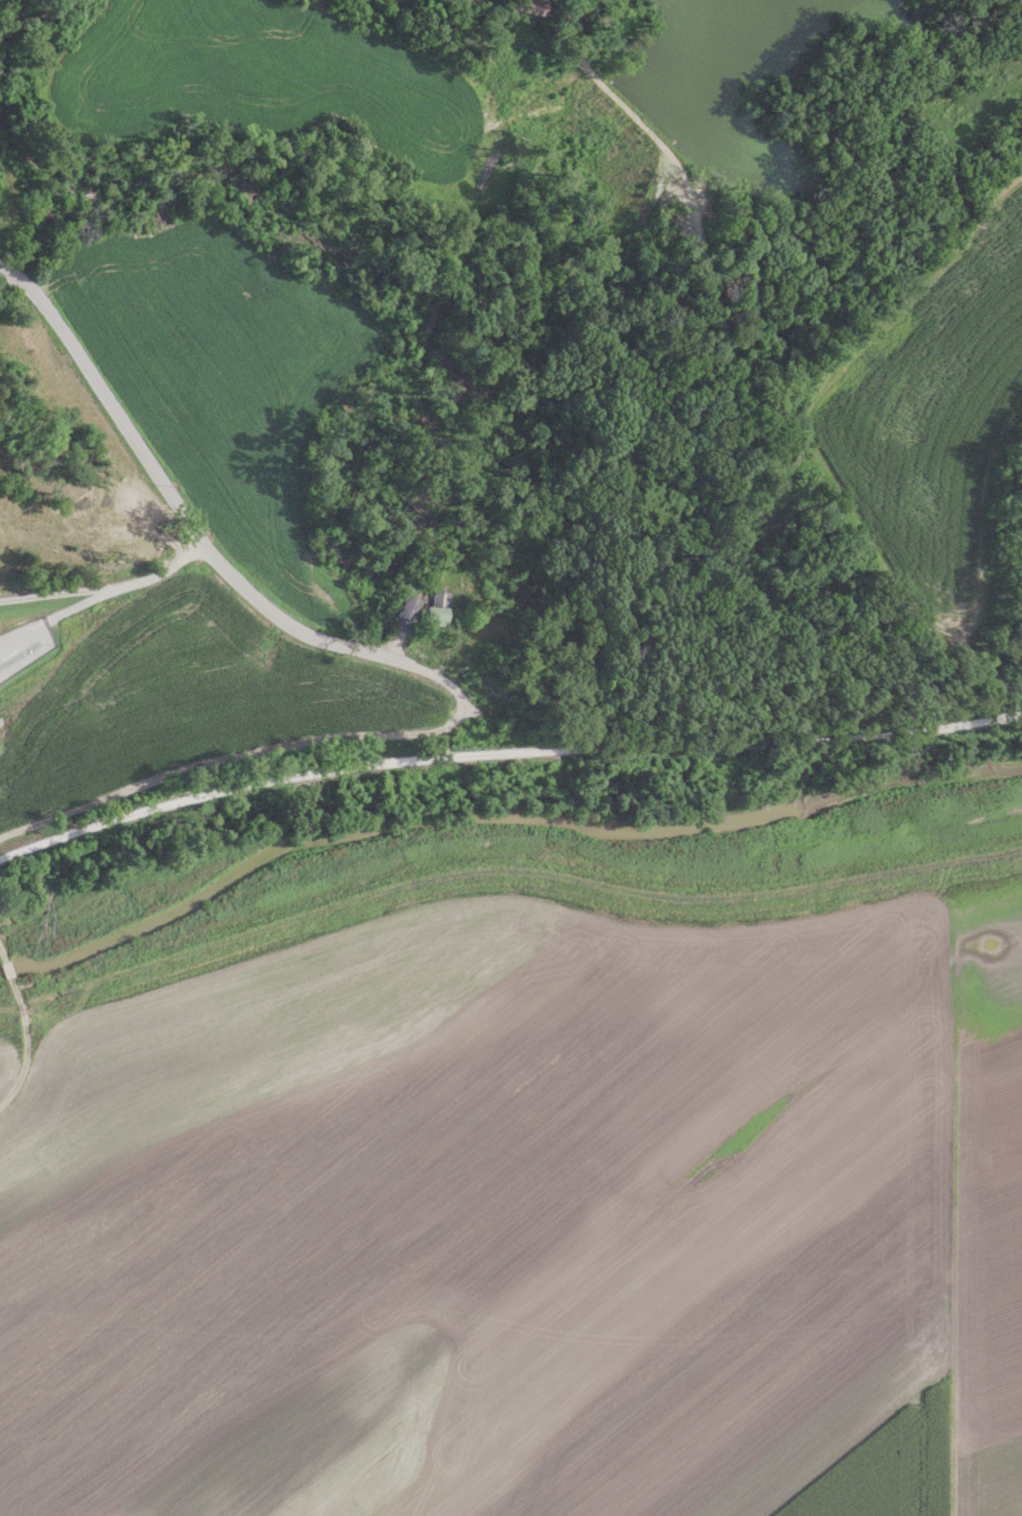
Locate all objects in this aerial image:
road: (173, 503)
road: (58, 596)
road: (102, 598)
building: (440, 608)
building: (409, 612)
road: (505, 754)
road: (25, 1028)

